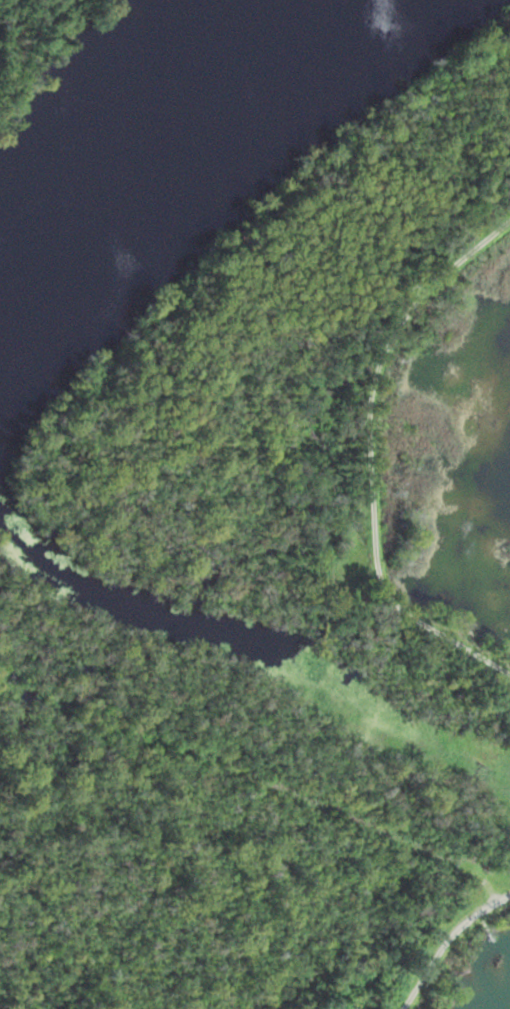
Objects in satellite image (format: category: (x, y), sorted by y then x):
river: (140, 142)

